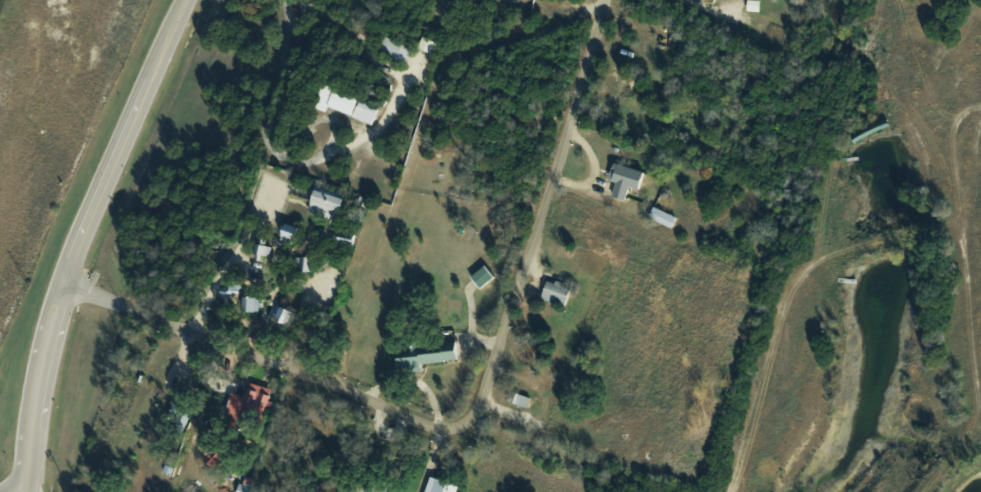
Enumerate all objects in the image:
park: (591, 0)
building: (751, 5)
building: (333, 100)
building: (362, 113)
road: (593, 171)
building: (620, 179)
building: (324, 199)
building: (659, 217)
building: (285, 233)
road: (81, 238)
building: (343, 238)
building: (258, 252)
building: (302, 264)
building: (479, 276)
building: (226, 290)
building: (553, 293)
building: (248, 304)
building: (279, 315)
road: (471, 322)
building: (425, 355)
road: (411, 380)
building: (253, 399)
building: (517, 400)
road: (471, 414)
building: (176, 416)
road: (521, 420)
road: (383, 432)
building: (209, 457)
road: (431, 458)
building: (439, 487)
building: (365, 489)
building: (382, 491)

